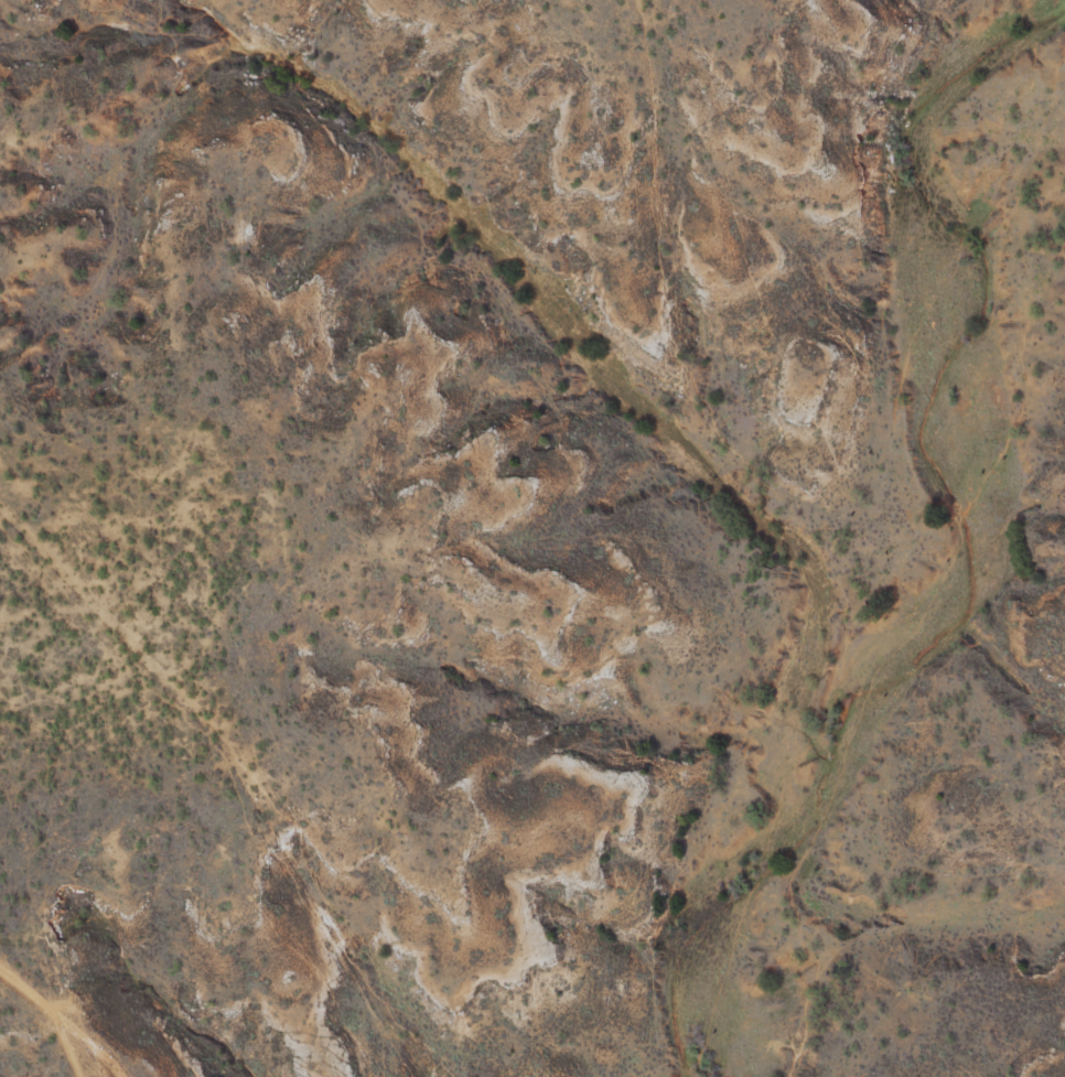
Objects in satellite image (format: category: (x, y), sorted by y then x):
road: (67, 1020)

